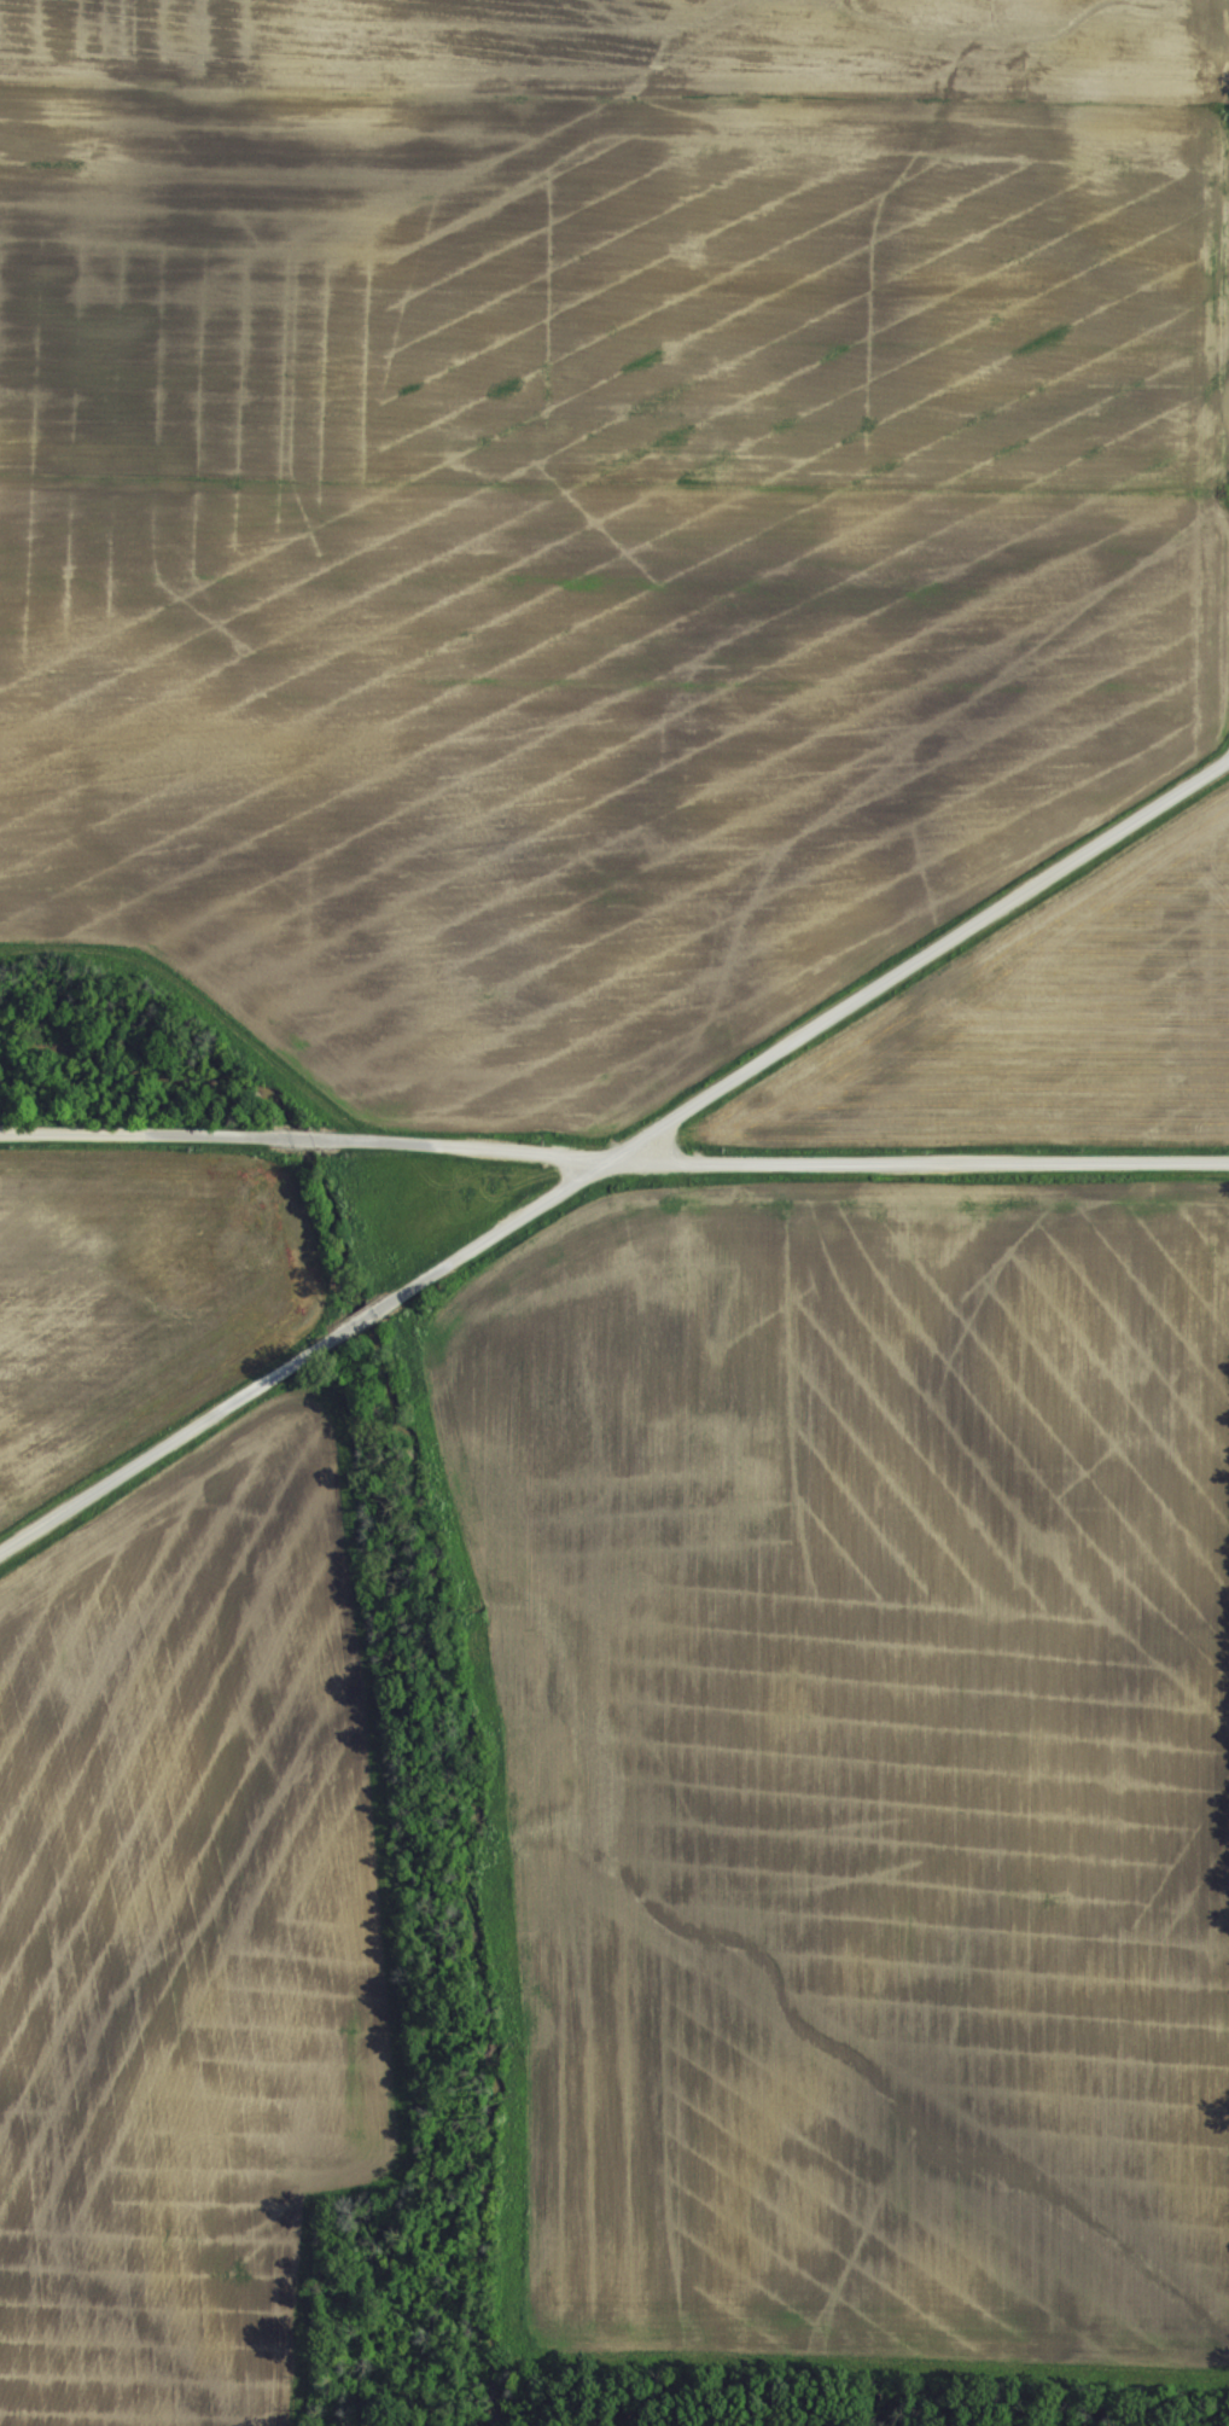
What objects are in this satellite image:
road: (619, 1148)
road: (613, 1152)

